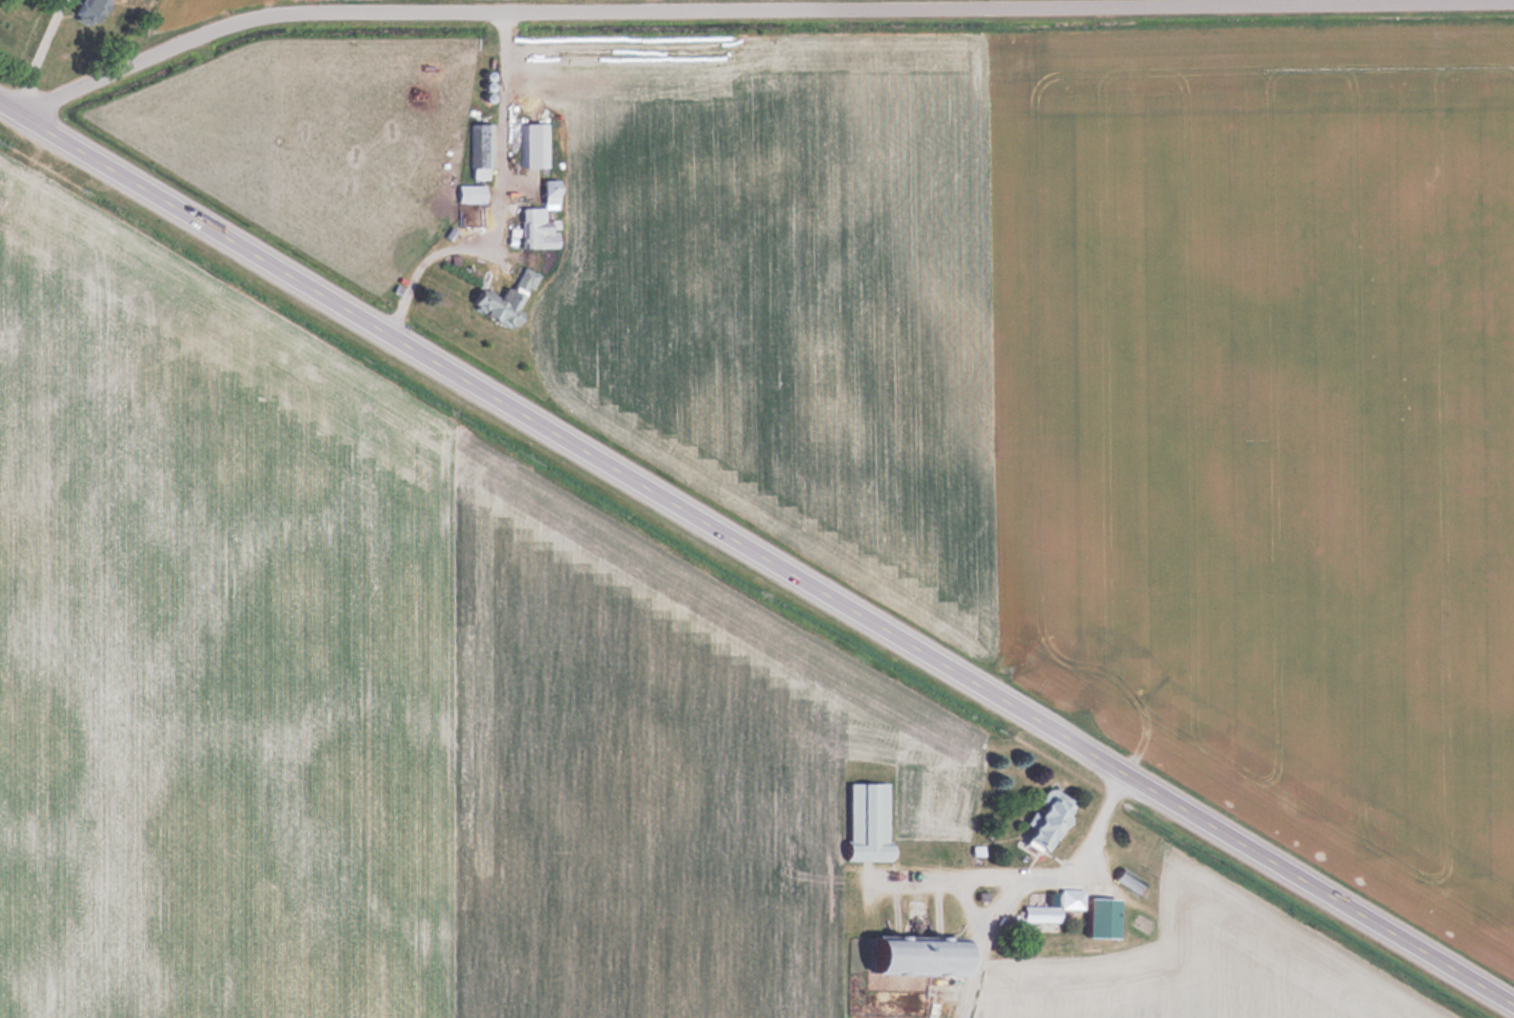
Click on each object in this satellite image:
building: (92, 10)
road: (756, 16)
road: (32, 55)
building: (535, 143)
building: (480, 152)
building: (551, 186)
building: (471, 193)
building: (537, 228)
building: (506, 299)
road: (756, 553)
building: (1050, 818)
building: (879, 851)
road: (1026, 874)
building: (1132, 881)
building: (1055, 905)
building: (1104, 915)
building: (923, 954)

